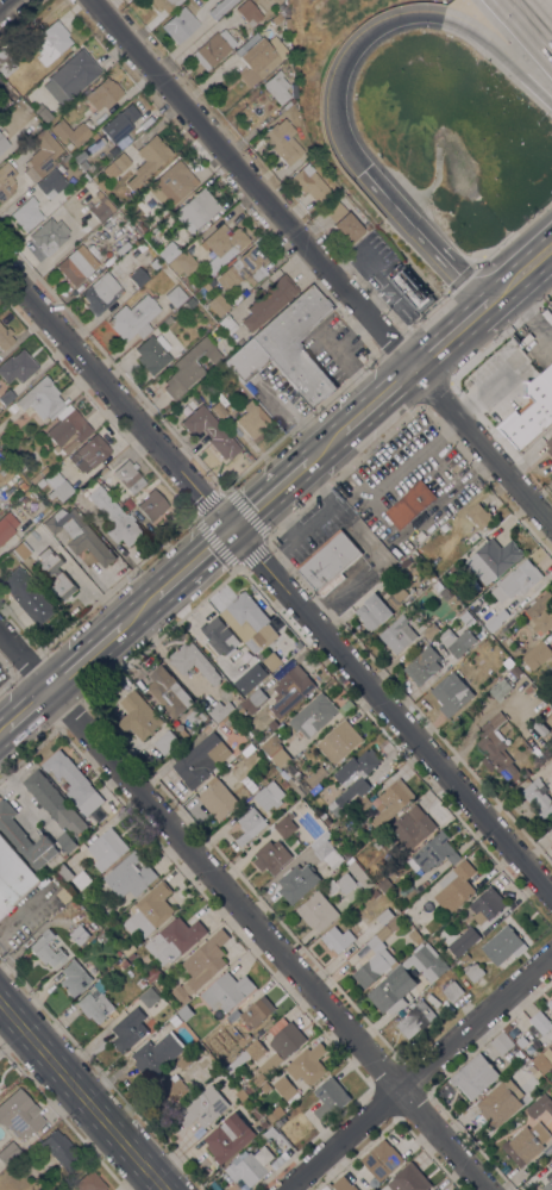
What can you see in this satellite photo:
building: (165, 4)
road: (6, 5)
building: (220, 7)
building: (249, 12)
building: (278, 17)
road: (533, 20)
building: (288, 23)
building: (180, 24)
building: (52, 42)
building: (214, 48)
building: (259, 57)
building: (5, 63)
building: (70, 75)
road: (335, 80)
building: (21, 83)
building: (277, 86)
building: (102, 93)
building: (23, 105)
building: (120, 123)
building: (70, 131)
building: (283, 141)
building: (4, 143)
building: (94, 145)
building: (42, 155)
building: (80, 155)
building: (149, 158)
building: (83, 163)
building: (115, 164)
building: (61, 168)
building: (6, 180)
building: (51, 182)
building: (310, 182)
building: (101, 183)
building: (171, 183)
building: (102, 207)
building: (196, 207)
building: (26, 213)
building: (343, 222)
building: (140, 226)
building: (49, 236)
building: (222, 244)
building: (121, 247)
building: (168, 251)
building: (152, 258)
road: (519, 258)
building: (183, 262)
road: (321, 263)
building: (76, 264)
building: (244, 264)
building: (138, 276)
building: (213, 281)
building: (412, 289)
building: (101, 292)
road: (517, 293)
building: (175, 295)
building: (234, 300)
building: (190, 301)
building: (269, 301)
building: (218, 304)
building: (133, 318)
building: (168, 319)
building: (227, 324)
road: (445, 326)
building: (5, 337)
building: (296, 344)
building: (153, 353)
road: (451, 353)
building: (245, 360)
building: (19, 365)
building: (189, 367)
building: (542, 382)
building: (5, 393)
building: (42, 398)
road: (377, 401)
building: (12, 406)
building: (219, 409)
building: (252, 419)
building: (68, 429)
building: (211, 430)
building: (548, 444)
road: (324, 448)
building: (89, 453)
building: (14, 455)
building: (102, 471)
building: (128, 475)
building: (36, 476)
building: (23, 485)
building: (57, 485)
road: (269, 497)
railway: (276, 498)
building: (126, 501)
building: (410, 504)
building: (149, 506)
building: (479, 516)
building: (115, 517)
building: (6, 525)
building: (445, 528)
building: (80, 534)
building: (21, 549)
building: (494, 560)
building: (328, 562)
road: (194, 563)
building: (55, 573)
building: (517, 580)
road: (275, 581)
building: (432, 591)
building: (394, 594)
building: (29, 596)
road: (139, 610)
building: (374, 611)
building: (540, 612)
building: (466, 617)
building: (496, 619)
building: (251, 622)
building: (433, 627)
building: (399, 634)
building: (481, 635)
building: (219, 636)
building: (458, 641)
building: (489, 643)
building: (300, 644)
building: (537, 655)
road: (84, 658)
building: (272, 661)
building: (194, 662)
building: (422, 666)
building: (515, 671)
building: (291, 690)
building: (500, 690)
building: (169, 692)
building: (451, 696)
building: (255, 700)
building: (551, 702)
building: (346, 708)
road: (27, 709)
building: (220, 710)
building: (138, 716)
building: (197, 716)
building: (313, 716)
building: (272, 724)
road: (2, 731)
building: (339, 741)
building: (167, 742)
building: (271, 744)
building: (498, 747)
building: (199, 758)
building: (281, 758)
building: (357, 767)
building: (318, 774)
building: (271, 775)
building: (74, 783)
building: (250, 784)
building: (356, 789)
building: (270, 795)
building: (224, 796)
building: (539, 797)
building: (393, 800)
building: (55, 803)
building: (364, 804)
building: (246, 823)
building: (286, 825)
building: (413, 825)
building: (389, 837)
building: (25, 839)
building: (67, 841)
building: (107, 848)
building: (326, 851)
building: (433, 853)
building: (272, 855)
building: (63, 872)
building: (359, 873)
building: (13, 876)
building: (130, 876)
building: (81, 879)
building: (297, 881)
building: (346, 883)
building: (456, 886)
building: (331, 887)
building: (375, 893)
building: (64, 895)
building: (75, 904)
building: (488, 904)
building: (318, 910)
building: (150, 911)
road: (241, 911)
road: (21, 912)
building: (384, 916)
building: (362, 924)
building: (80, 934)
building: (379, 936)
building: (415, 937)
building: (338, 939)
building: (175, 940)
building: (464, 941)
building: (502, 945)
building: (45, 948)
building: (128, 949)
building: (465, 958)
building: (206, 960)
building: (375, 967)
building: (475, 972)
building: (153, 973)
building: (74, 977)
building: (406, 979)
building: (140, 983)
building: (227, 991)
building: (453, 991)
building: (181, 993)
building: (149, 997)
building: (550, 1004)
building: (94, 1005)
building: (257, 1011)
building: (186, 1013)
building: (416, 1018)
building: (175, 1020)
building: (540, 1022)
building: (508, 1027)
building: (127, 1032)
building: (213, 1039)
building: (522, 1041)
building: (502, 1042)
building: (282, 1043)
building: (157, 1054)
building: (246, 1055)
building: (544, 1060)
building: (186, 1063)
building: (308, 1064)
building: (532, 1070)
road: (419, 1073)
building: (475, 1076)
building: (172, 1088)
building: (265, 1088)
building: (249, 1089)
building: (287, 1089)
road: (83, 1095)
building: (243, 1095)
building: (330, 1098)
building: (500, 1103)
building: (541, 1104)
building: (202, 1107)
building: (19, 1114)
building: (256, 1114)
building: (272, 1116)
building: (278, 1123)
building: (263, 1124)
building: (228, 1138)
building: (276, 1138)
building: (529, 1141)
building: (59, 1149)
building: (8, 1151)
building: (382, 1159)
building: (278, 1161)
building: (245, 1169)
building: (409, 1179)
building: (89, 1182)
building: (344, 1184)
building: (548, 1185)

